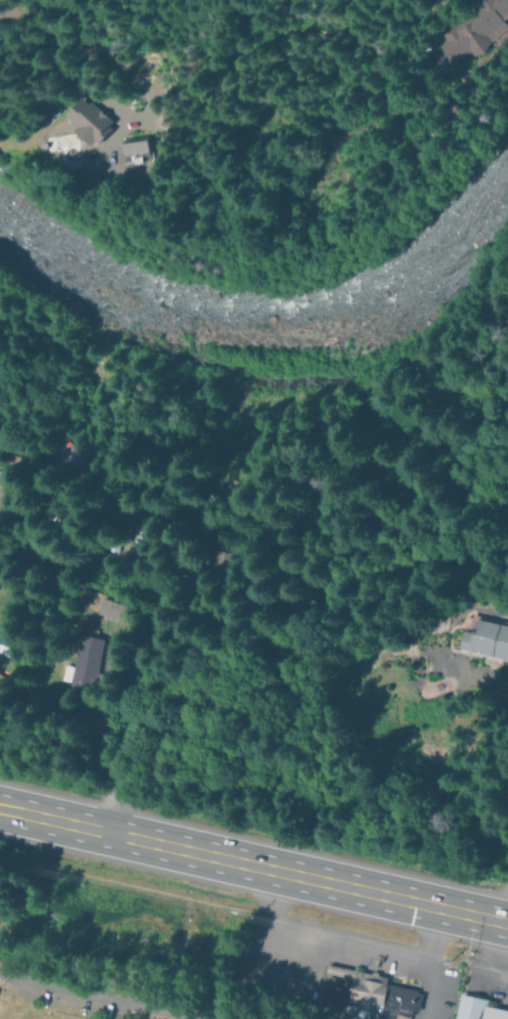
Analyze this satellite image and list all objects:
building: (472, 31)
building: (83, 121)
building: (129, 146)
river: (270, 318)
building: (0, 477)
building: (147, 528)
building: (113, 610)
road: (149, 632)
building: (486, 639)
building: (6, 644)
building: (84, 664)
road: (498, 796)
road: (253, 863)
road: (503, 901)
road: (399, 954)
road: (487, 962)
road: (280, 984)
road: (428, 990)
road: (110, 991)
building: (374, 995)
building: (477, 1006)
park: (37, 1011)

